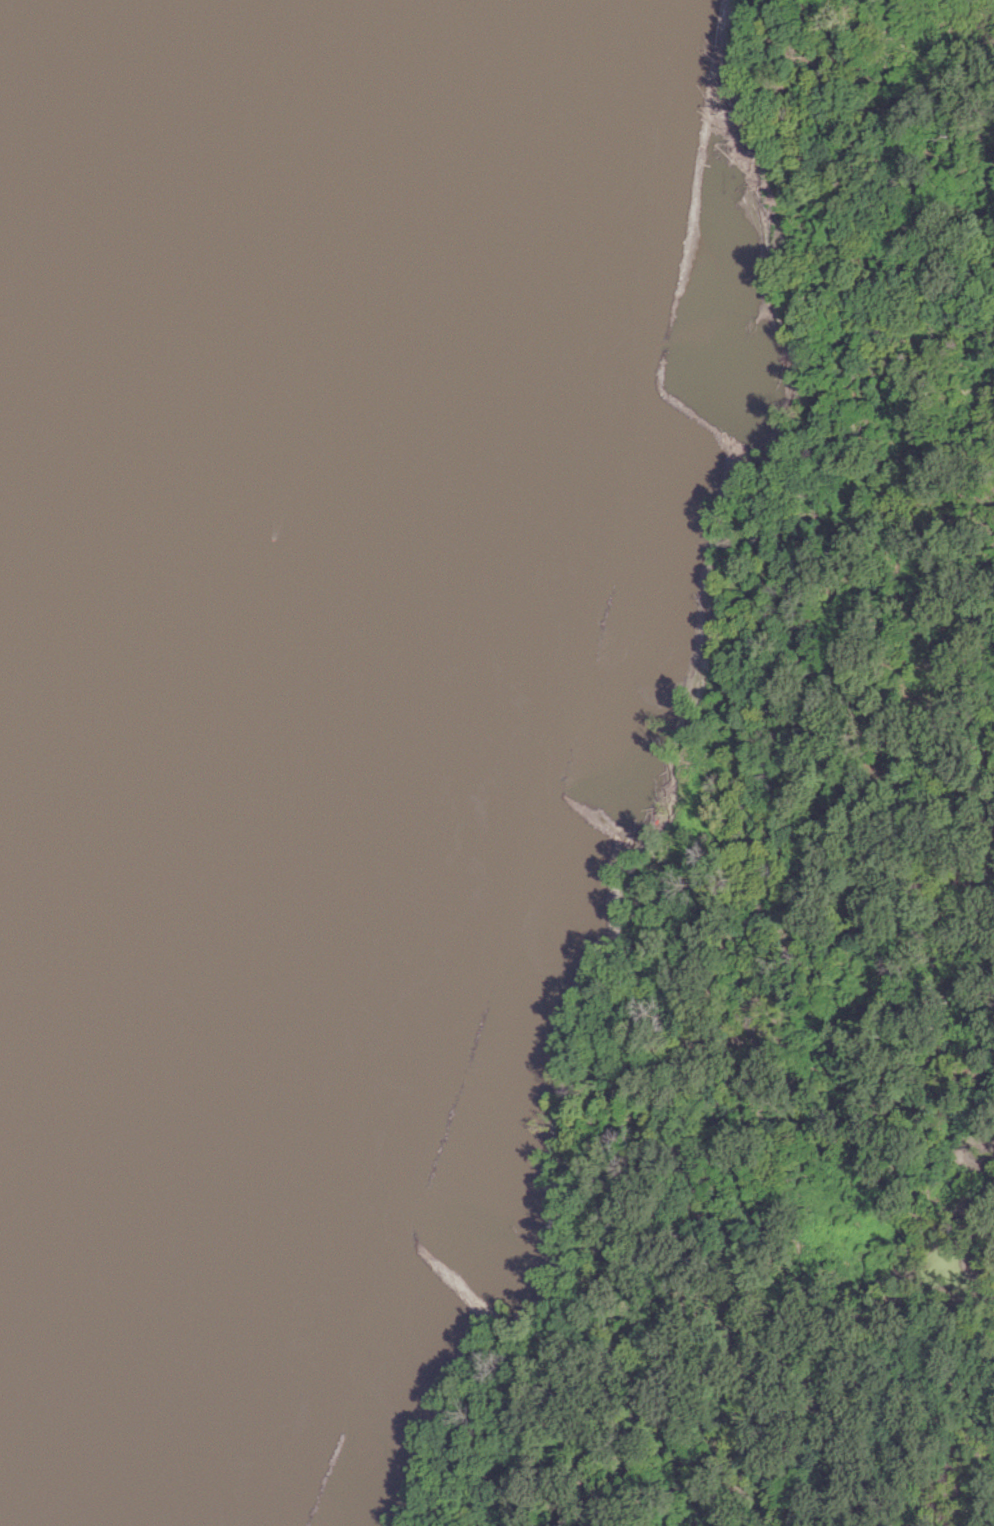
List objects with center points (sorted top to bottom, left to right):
river: (237, 708)

